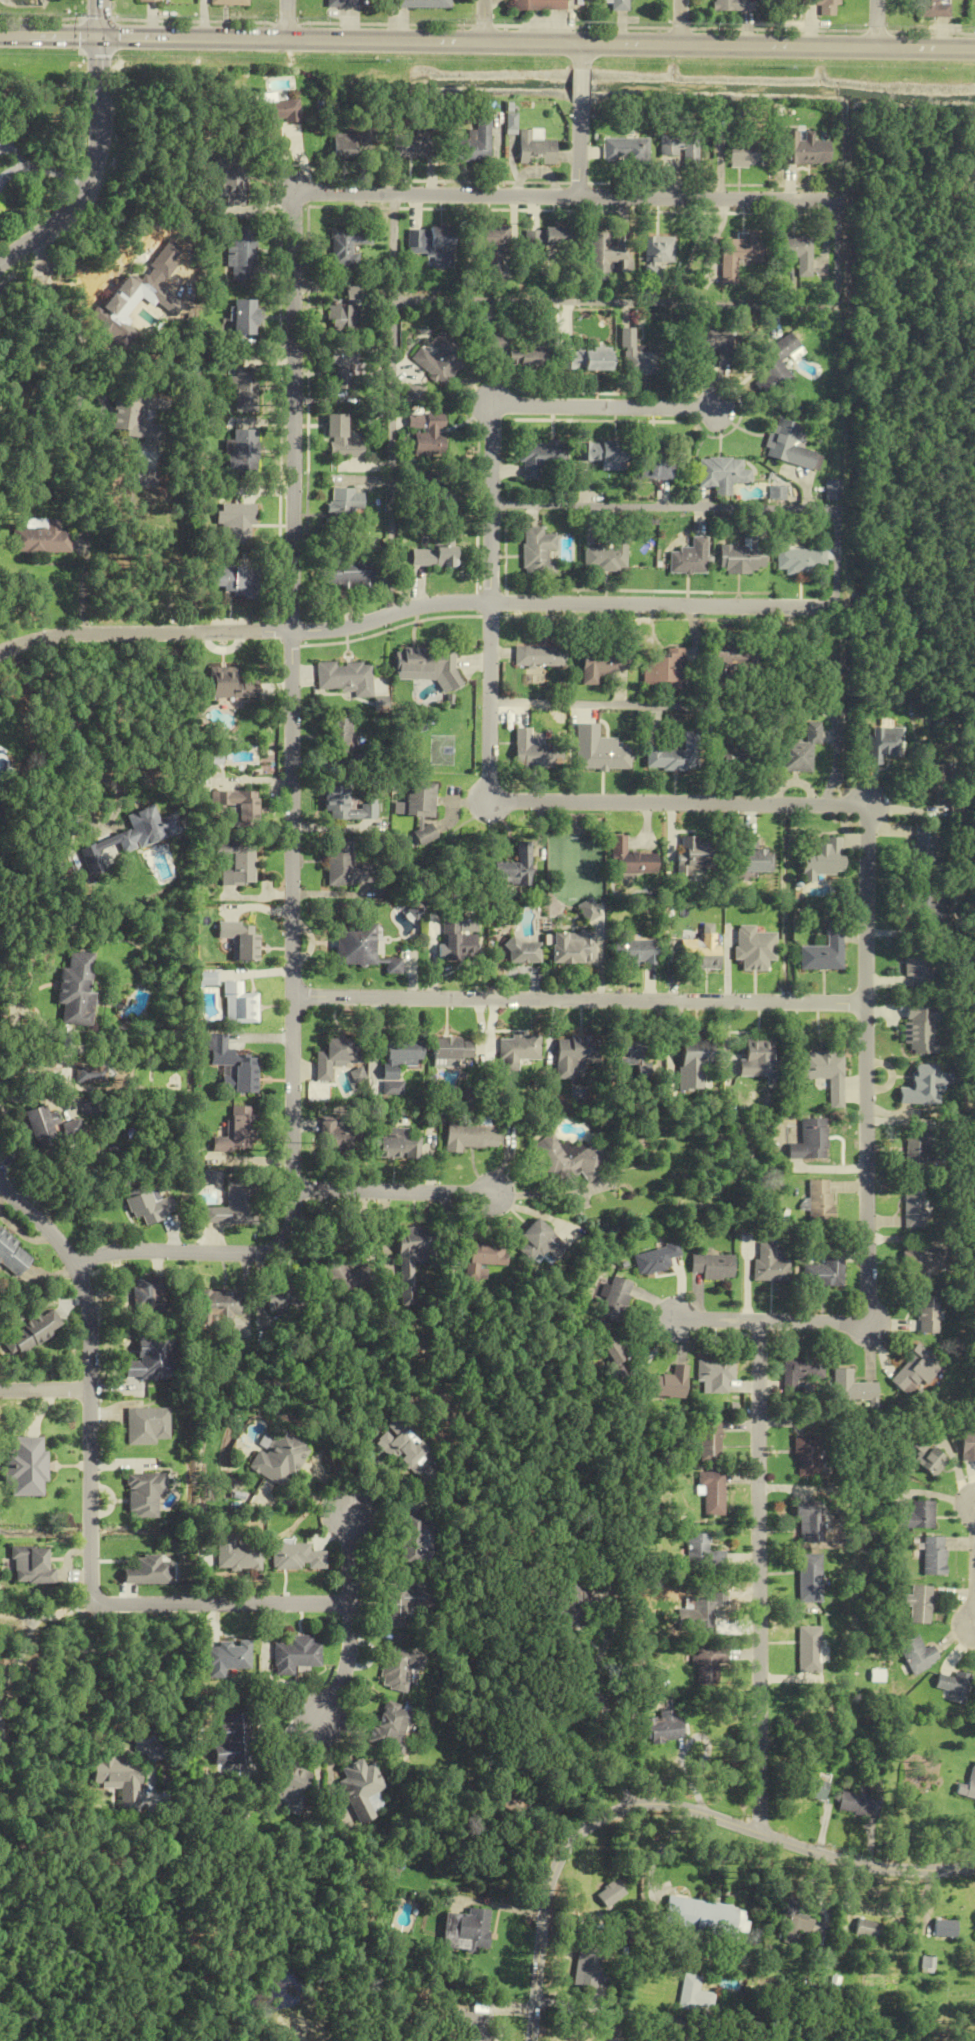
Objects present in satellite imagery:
building: (147, 1)
river: (25, 2)
building: (227, 2)
building: (341, 3)
building: (420, 3)
building: (537, 5)
building: (619, 5)
building: (733, 5)
building: (823, 6)
building: (934, 9)
road: (98, 18)
road: (286, 19)
road: (482, 21)
road: (680, 22)
road: (876, 23)
traffic signals: (99, 37)
road: (487, 42)
road: (581, 56)
river: (217, 60)
river: (698, 85)
road: (580, 86)
building: (275, 116)
building: (344, 144)
building: (471, 145)
building: (409, 146)
building: (679, 147)
building: (623, 149)
road: (579, 150)
building: (802, 150)
building: (535, 151)
building: (743, 154)
road: (974, 156)
road: (90, 171)
building: (230, 181)
road: (564, 196)
building: (427, 238)
building: (547, 238)
building: (347, 246)
building: (242, 249)
building: (491, 249)
building: (793, 252)
building: (607, 254)
building: (656, 254)
building: (737, 255)
building: (134, 300)
road: (665, 306)
building: (344, 313)
building: (244, 317)
building: (708, 342)
building: (514, 351)
building: (633, 356)
building: (439, 359)
building: (580, 359)
building: (772, 364)
building: (341, 366)
building: (243, 389)
building: (413, 394)
road: (392, 404)
road: (602, 408)
building: (137, 414)
building: (427, 434)
building: (339, 437)
building: (784, 445)
building: (243, 449)
building: (596, 450)
building: (537, 457)
building: (650, 461)
building: (720, 474)
building: (831, 490)
building: (442, 495)
building: (345, 503)
road: (708, 508)
building: (236, 523)
building: (40, 541)
building: (438, 552)
building: (537, 552)
building: (742, 554)
building: (605, 555)
building: (688, 558)
building: (799, 559)
building: (347, 574)
building: (237, 581)
road: (491, 603)
road: (414, 608)
building: (540, 657)
building: (730, 660)
building: (600, 663)
building: (429, 666)
building: (663, 668)
building: (347, 678)
building: (232, 685)
road: (707, 708)
building: (341, 736)
building: (882, 743)
building: (533, 750)
building: (729, 751)
building: (800, 751)
building: (674, 755)
building: (604, 757)
building: (934, 778)
building: (418, 801)
building: (341, 802)
road: (680, 803)
building: (238, 805)
road: (293, 825)
building: (146, 828)
building: (425, 835)
building: (922, 847)
building: (694, 856)
building: (755, 857)
building: (823, 858)
building: (630, 859)
building: (237, 862)
building: (343, 865)
building: (514, 868)
building: (925, 906)
building: (587, 910)
building: (241, 940)
building: (457, 943)
building: (359, 948)
building: (571, 948)
building: (522, 952)
building: (634, 952)
building: (700, 952)
building: (825, 952)
building: (919, 968)
building: (208, 979)
building: (75, 990)
road: (580, 1000)
building: (239, 1004)
building: (920, 1029)
building: (450, 1049)
building: (516, 1051)
building: (575, 1053)
building: (335, 1056)
building: (634, 1057)
building: (757, 1057)
building: (693, 1058)
building: (396, 1062)
building: (236, 1070)
building: (825, 1070)
building: (92, 1074)
building: (921, 1086)
building: (88, 1107)
building: (47, 1126)
building: (236, 1131)
building: (471, 1133)
building: (334, 1138)
building: (810, 1140)
building: (394, 1145)
building: (918, 1148)
building: (569, 1159)
road: (867, 1161)
road: (0, 1183)
road: (392, 1192)
building: (819, 1202)
building: (147, 1205)
building: (231, 1205)
building: (914, 1206)
building: (415, 1243)
building: (542, 1243)
building: (12, 1256)
building: (480, 1258)
building: (655, 1259)
building: (770, 1263)
building: (915, 1264)
building: (712, 1266)
building: (824, 1272)
building: (345, 1280)
building: (408, 1295)
building: (147, 1297)
building: (280, 1300)
building: (614, 1300)
building: (219, 1307)
building: (926, 1315)
building: (32, 1333)
building: (615, 1356)
building: (148, 1359)
building: (801, 1370)
building: (914, 1371)
building: (716, 1374)
road: (91, 1377)
building: (671, 1384)
building: (852, 1387)
road: (45, 1390)
building: (146, 1425)
building: (711, 1441)
building: (967, 1445)
building: (405, 1448)
building: (928, 1455)
building: (808, 1456)
building: (274, 1459)
building: (27, 1466)
building: (713, 1492)
building: (144, 1494)
building: (917, 1515)
building: (807, 1516)
building: (413, 1538)
building: (703, 1552)
building: (230, 1554)
building: (934, 1555)
building: (291, 1557)
building: (35, 1566)
building: (147, 1571)
road: (759, 1576)
building: (806, 1579)
building: (399, 1603)
road: (263, 1604)
building: (919, 1604)
building: (572, 1609)
building: (698, 1614)
road: (32, 1631)
building: (808, 1650)
building: (289, 1655)
building: (918, 1655)
building: (221, 1659)
road: (342, 1662)
building: (706, 1666)
building: (394, 1668)
building: (955, 1686)
road: (593, 1698)
building: (387, 1727)
building: (663, 1727)
building: (230, 1739)
building: (117, 1778)
building: (284, 1786)
building: (968, 1786)
building: (356, 1788)
building: (814, 1788)
building: (859, 1802)
road: (668, 1804)
building: (523, 1807)
building: (607, 1895)
building: (698, 1917)
building: (796, 1926)
building: (944, 1928)
building: (465, 1929)
building: (865, 1929)
building: (927, 1965)
building: (587, 1967)
building: (691, 1996)
building: (469, 2026)

